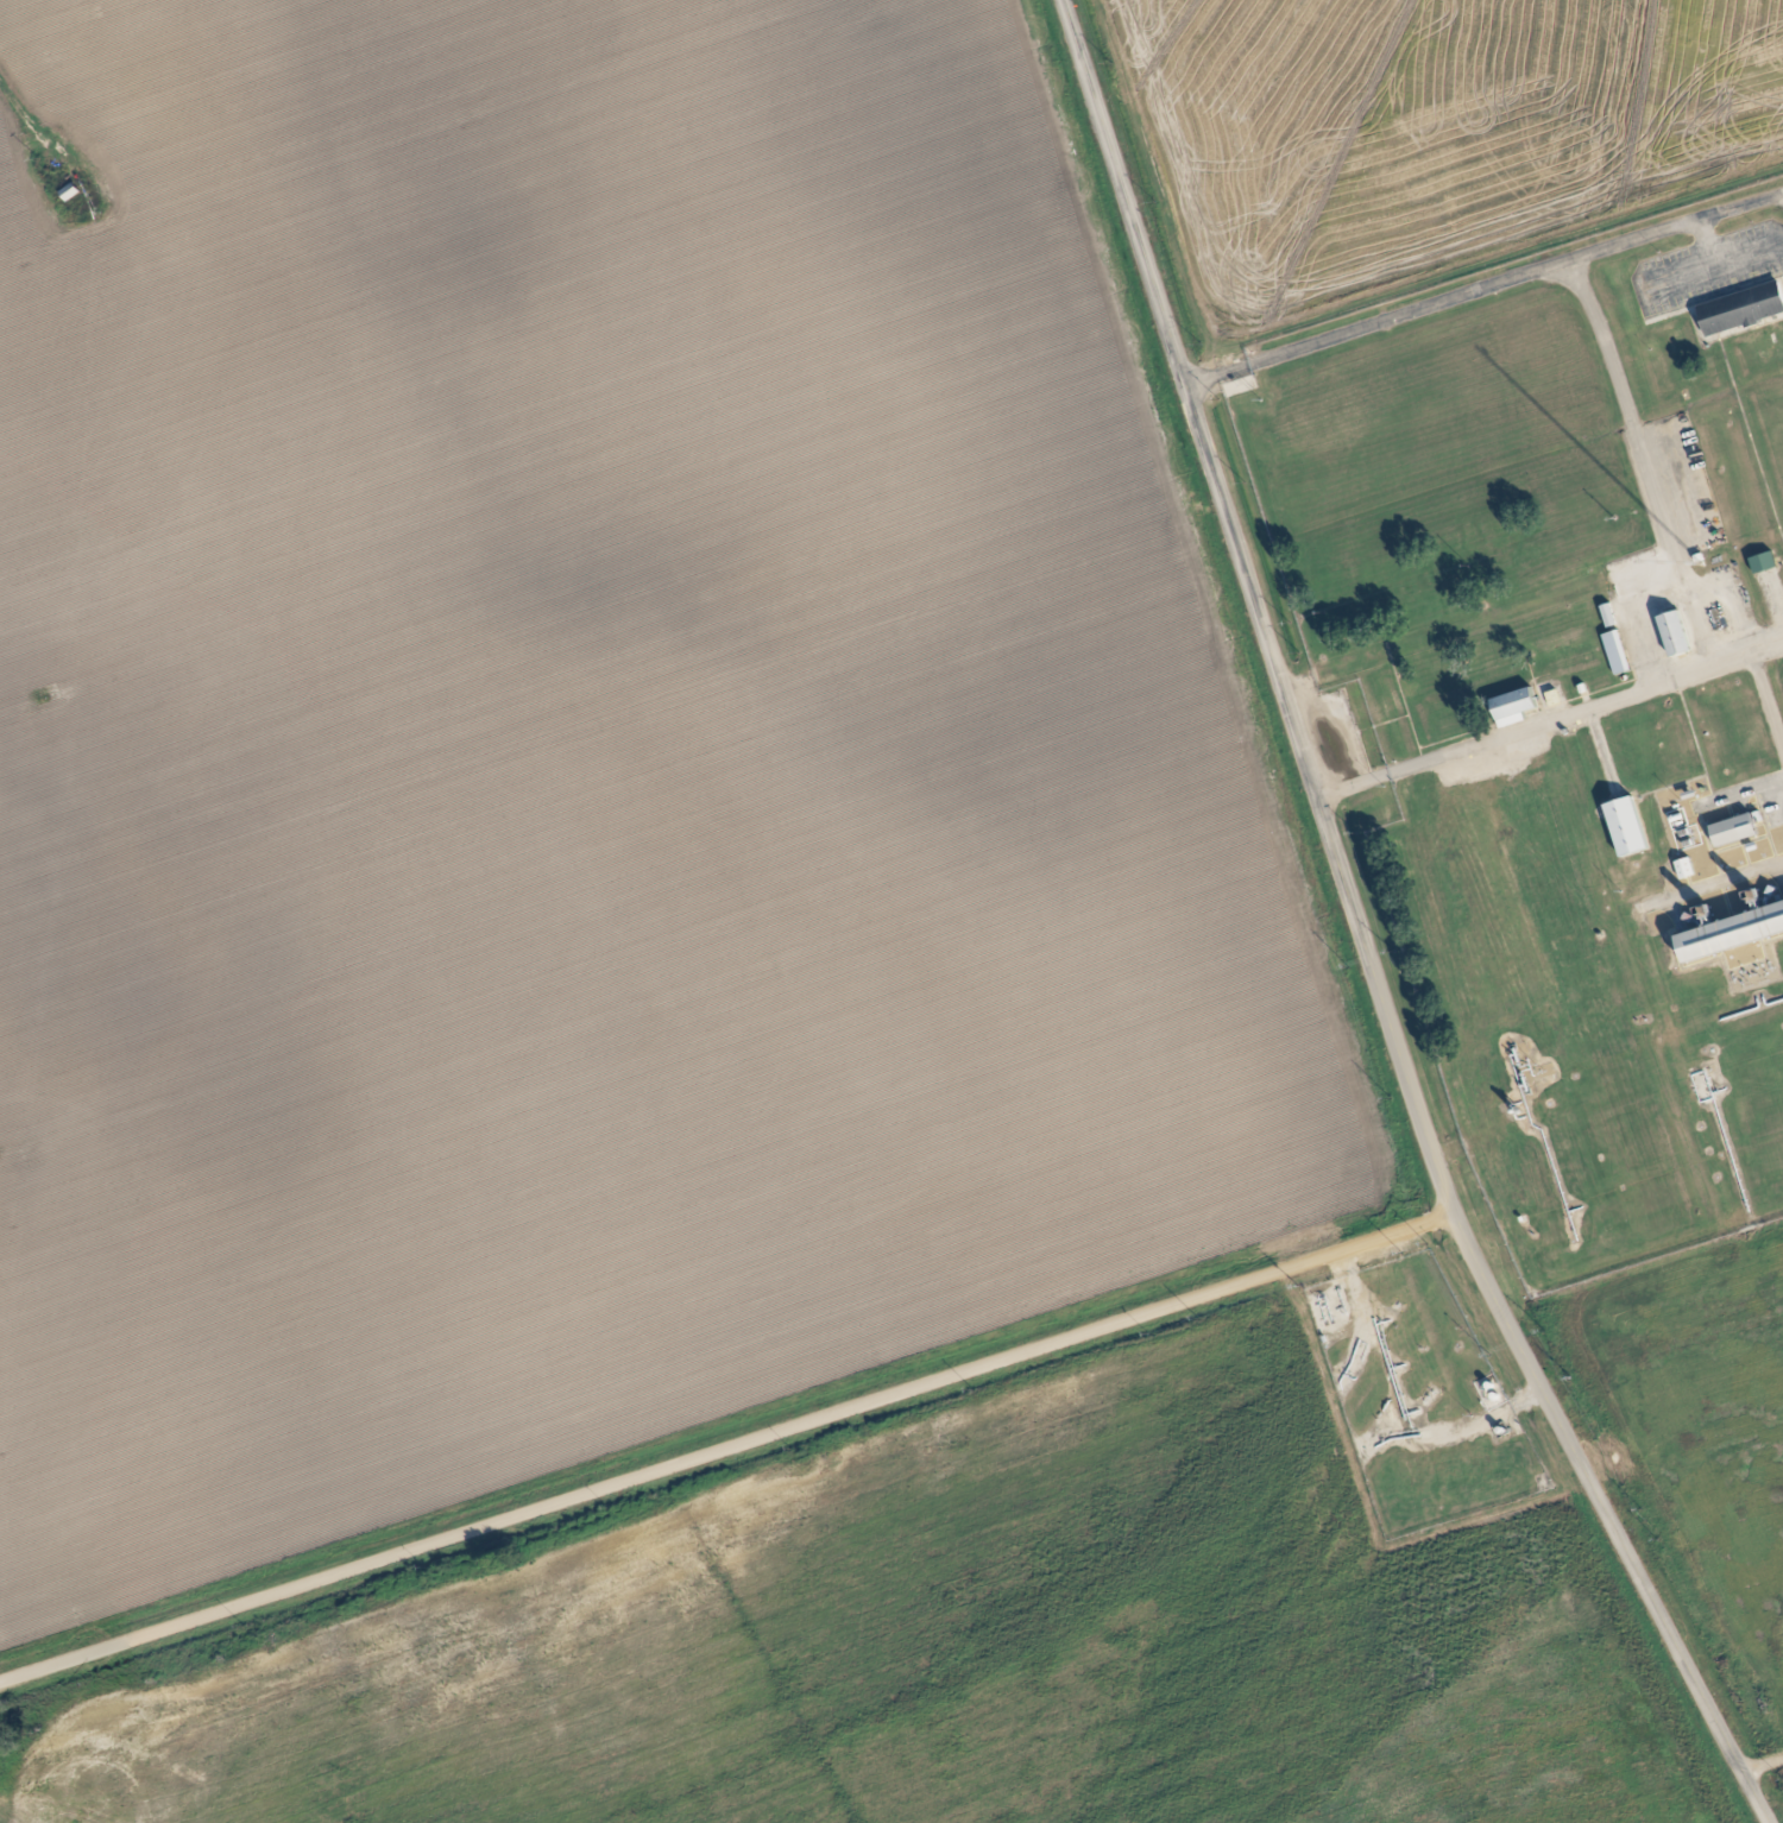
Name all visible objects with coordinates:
road: (1735, 207)
road: (1464, 295)
building: (1740, 314)
building: (1764, 563)
building: (1609, 616)
building: (1675, 635)
road: (1647, 637)
building: (1618, 652)
road: (1716, 656)
road: (1766, 695)
helipad: (1434, 701)
building: (1513, 707)
building: (1626, 827)
building: (1734, 831)
building: (1686, 869)
road: (1360, 934)
building: (1730, 935)
road: (1463, 1415)
road: (725, 1445)

